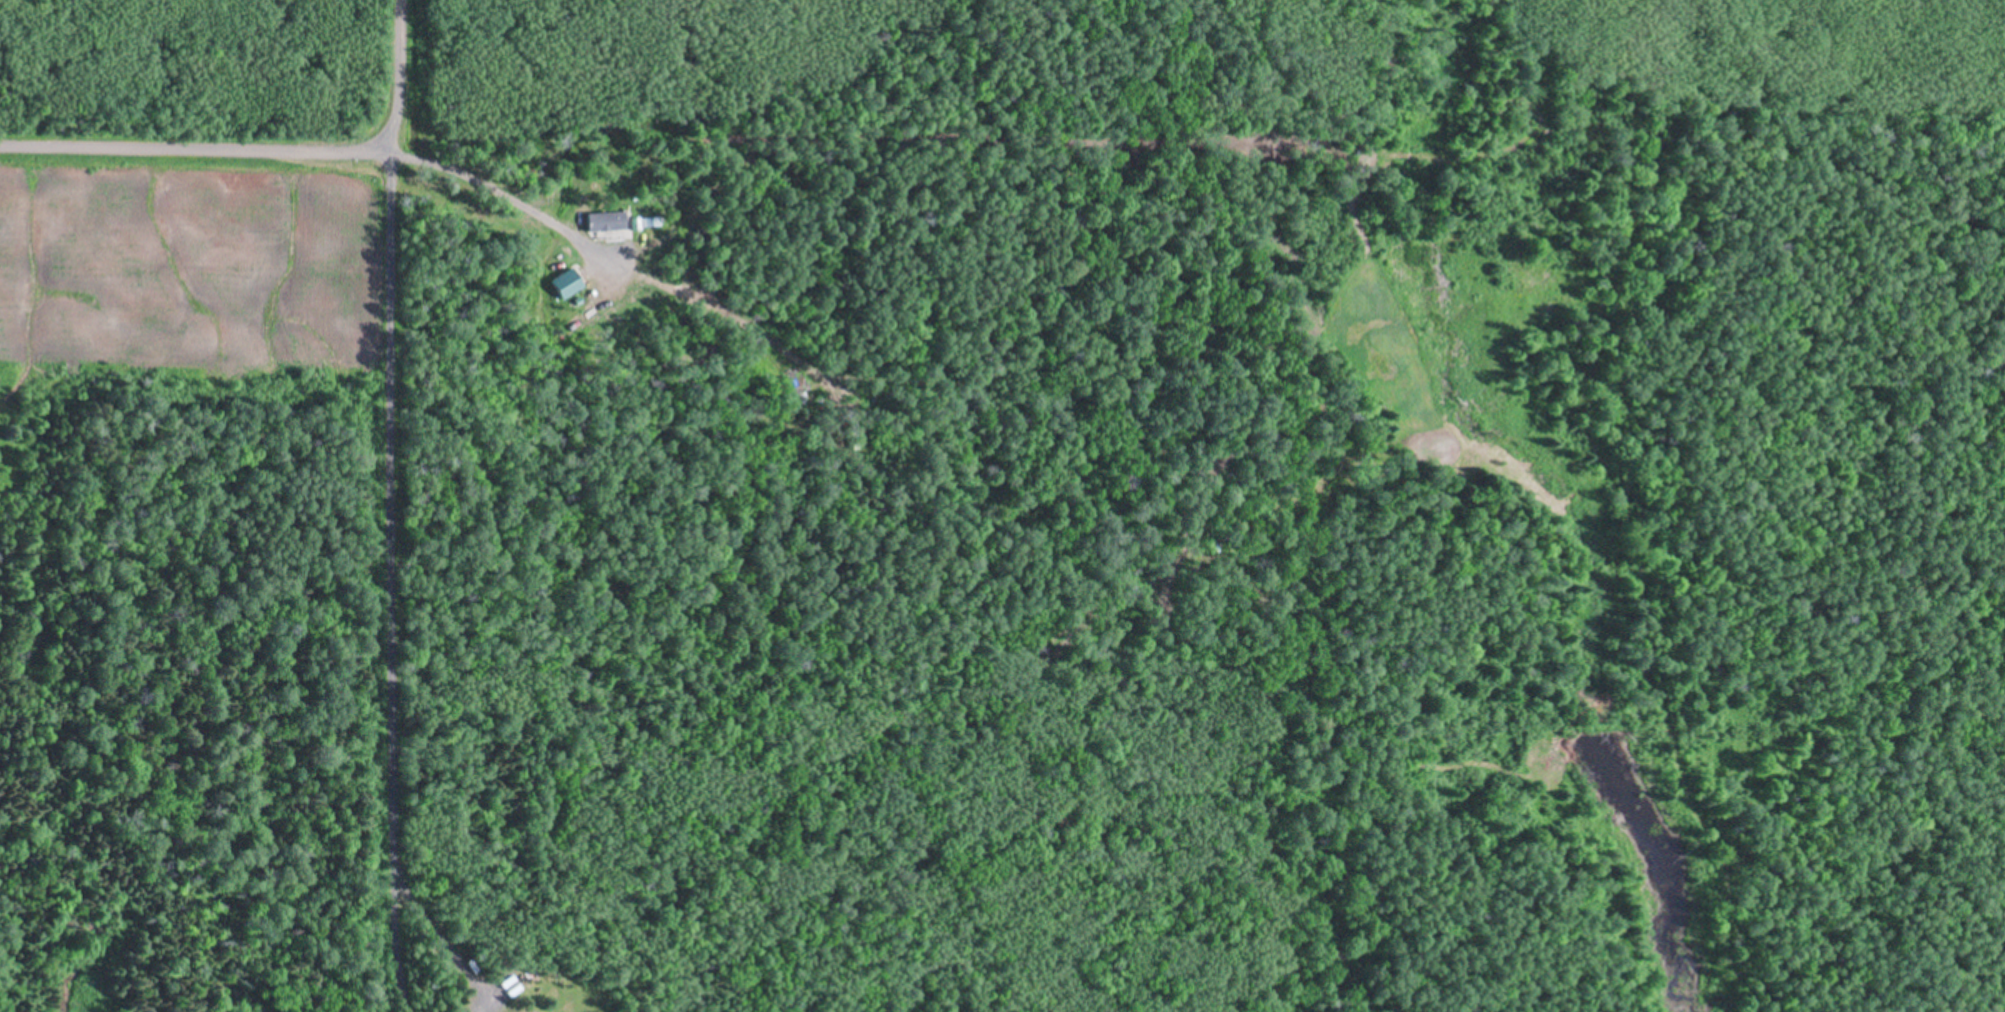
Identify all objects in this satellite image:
road: (194, 150)
road: (499, 195)
building: (651, 219)
building: (605, 220)
building: (635, 221)
building: (567, 282)
road: (390, 423)
road: (392, 929)

